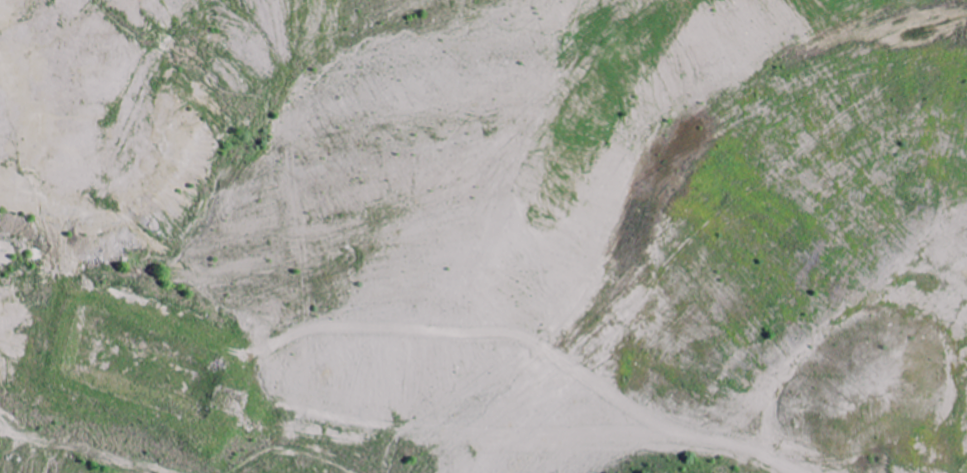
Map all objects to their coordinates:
quarry: (483, 236)

